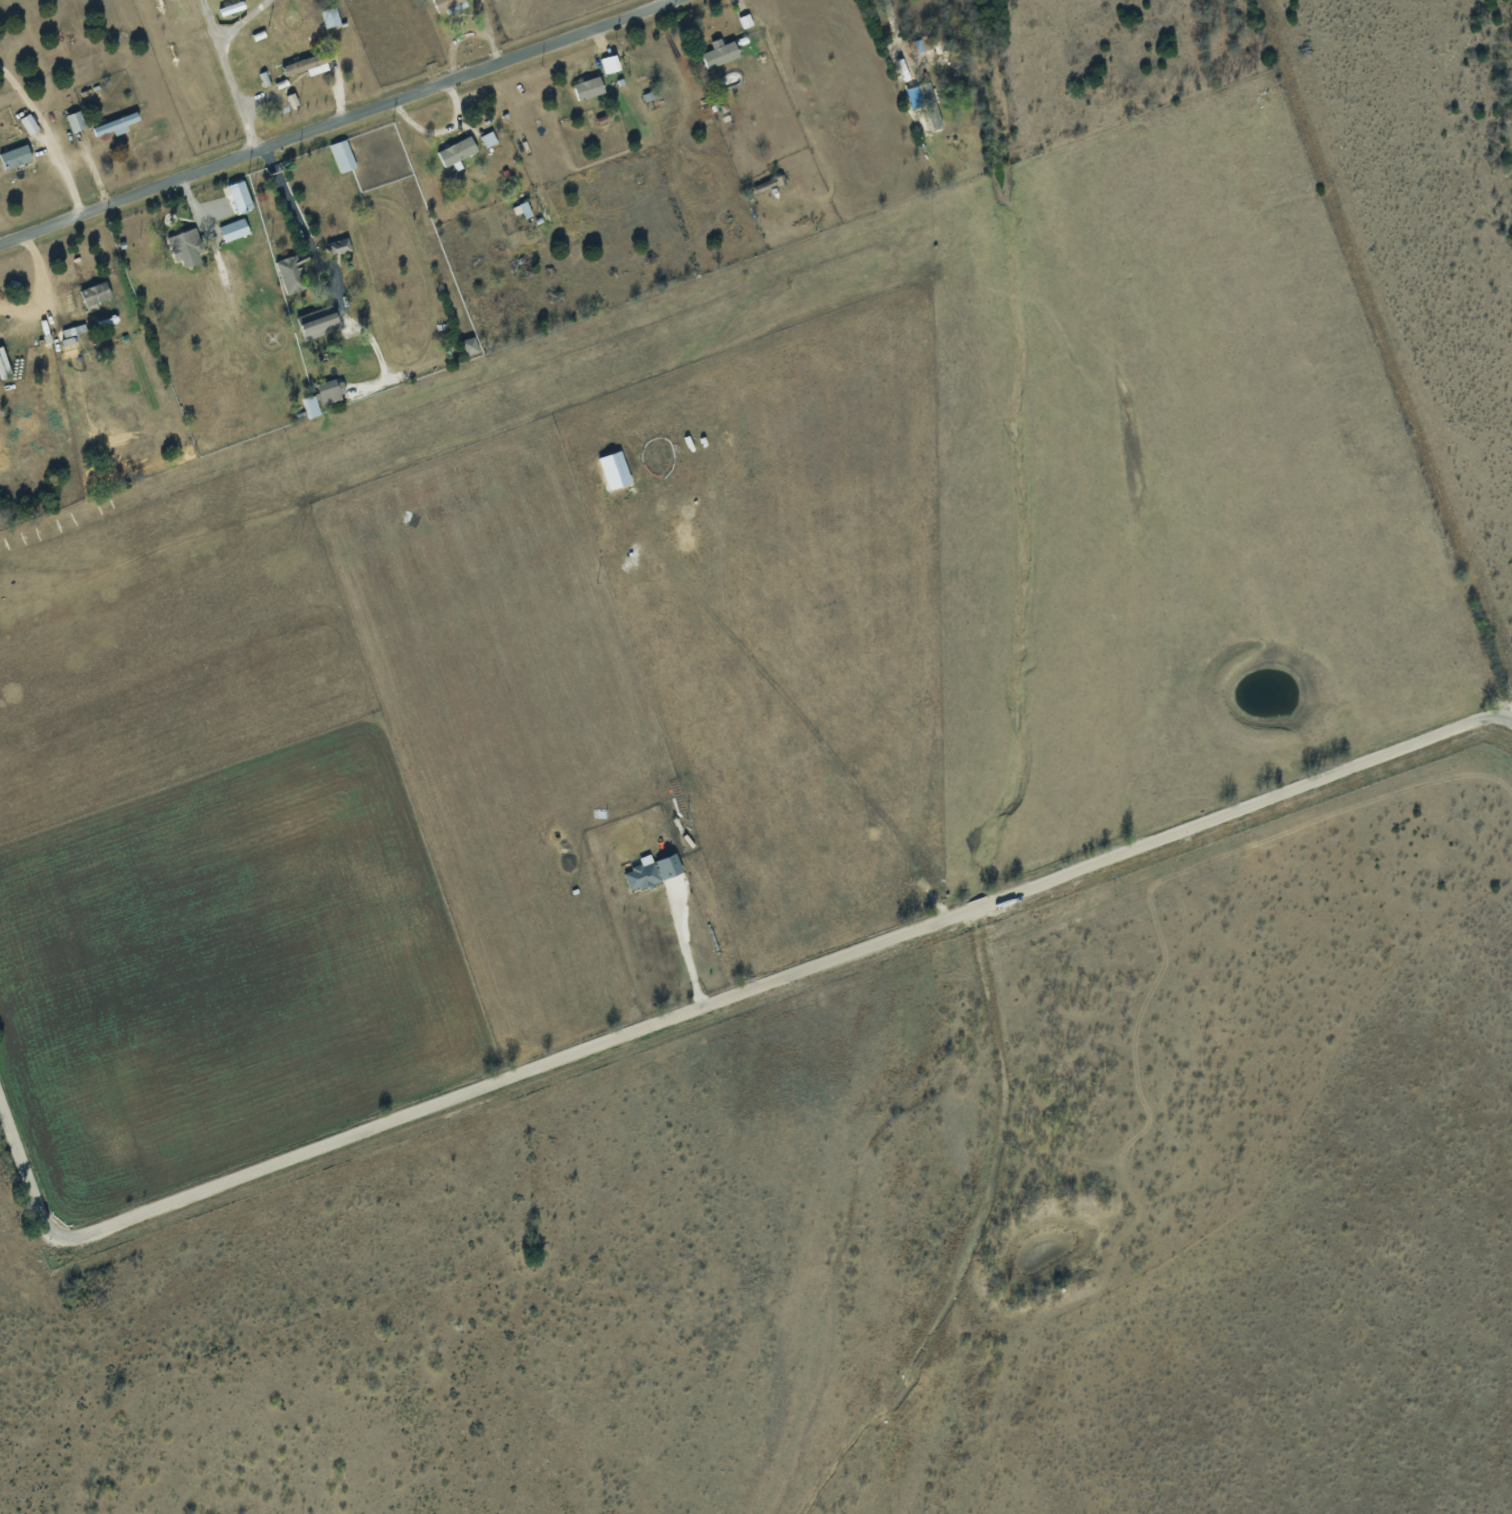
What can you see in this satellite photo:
road: (669, 1)
building: (448, 5)
building: (330, 17)
road: (896, 35)
building: (720, 53)
building: (611, 64)
building: (307, 65)
road: (227, 67)
building: (589, 88)
building: (929, 105)
building: (75, 121)
road: (337, 121)
building: (29, 124)
building: (116, 125)
road: (48, 138)
building: (489, 139)
building: (458, 151)
building: (343, 156)
building: (16, 157)
building: (240, 196)
road: (292, 211)
building: (234, 230)
building: (187, 247)
building: (339, 247)
building: (292, 274)
road: (43, 287)
building: (96, 294)
building: (320, 326)
building: (71, 336)
building: (470, 346)
building: (331, 390)
building: (311, 406)
building: (615, 469)
building: (649, 872)
road: (682, 947)
road: (715, 1000)

